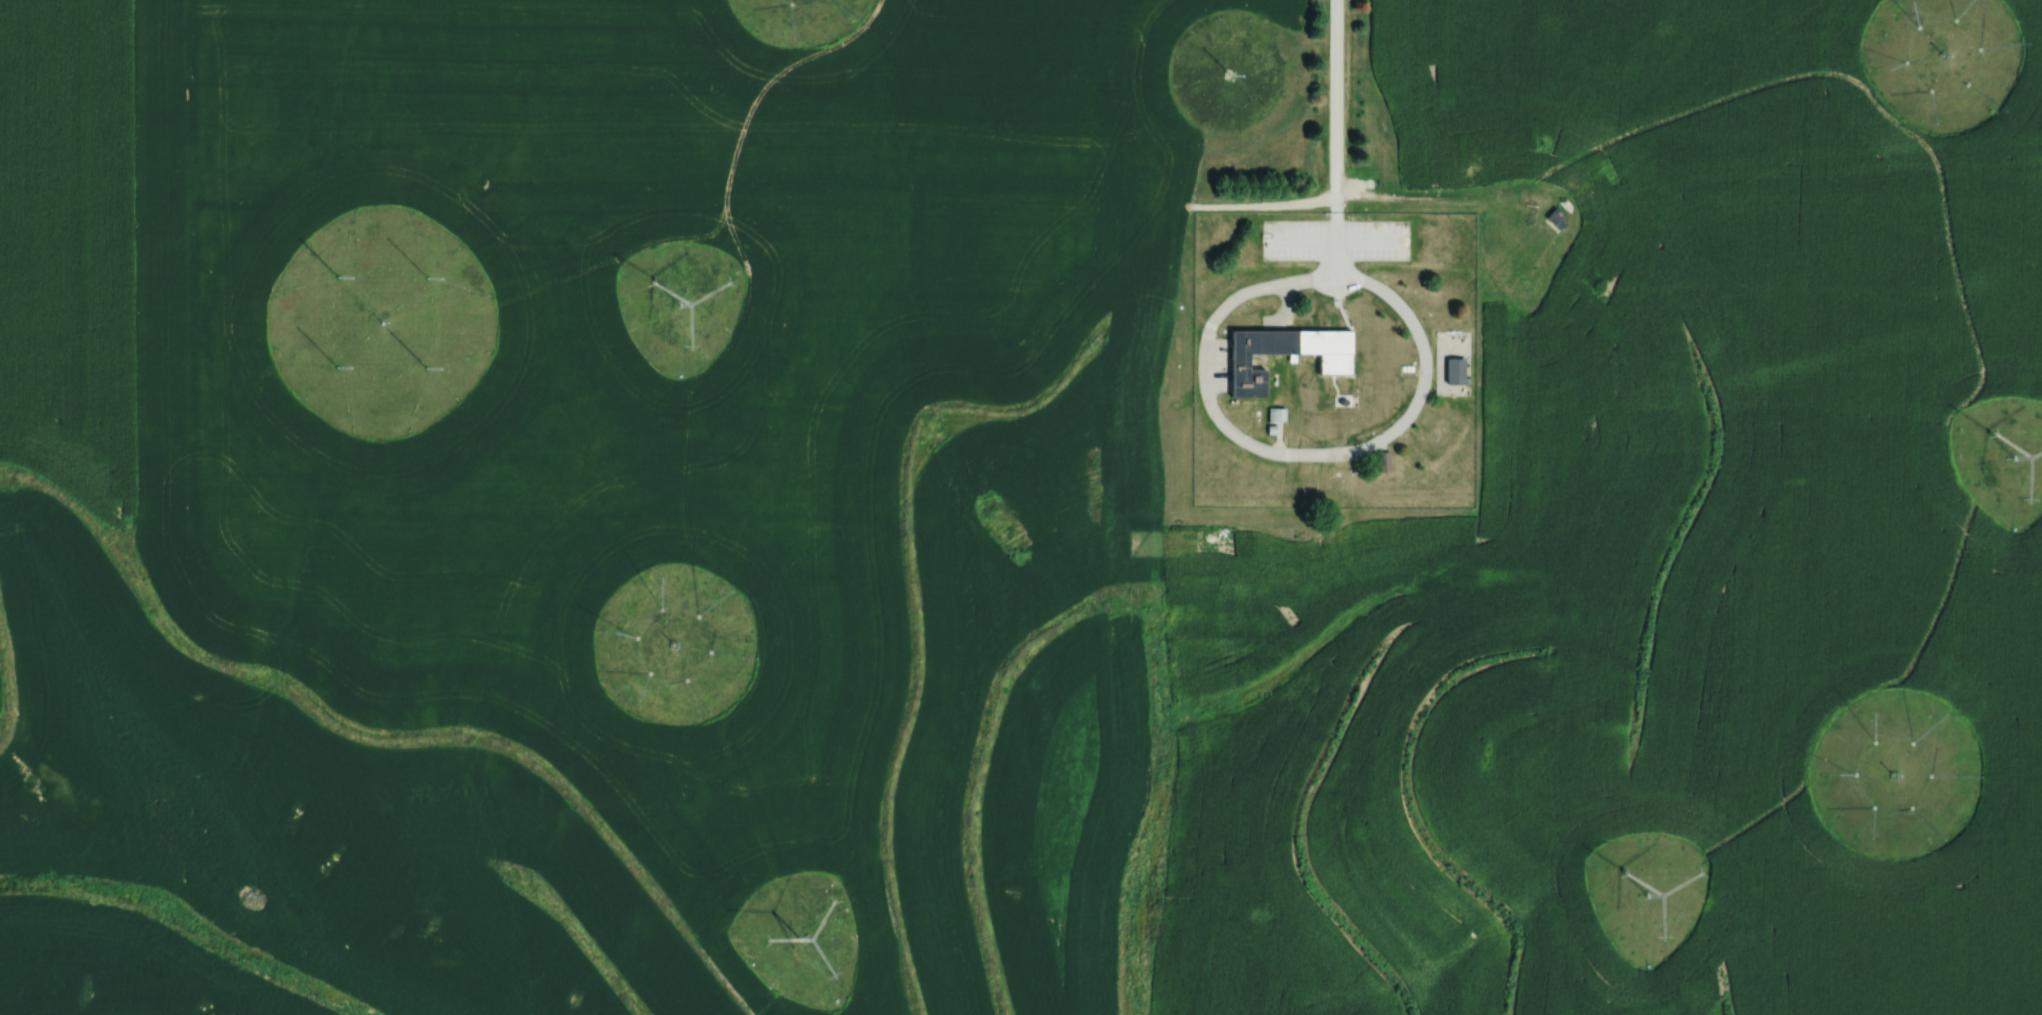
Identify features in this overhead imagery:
road: (1335, 137)
building: (1557, 218)
road: (617, 250)
road: (741, 253)
building: (1335, 361)
building: (1276, 414)
road: (1290, 452)

